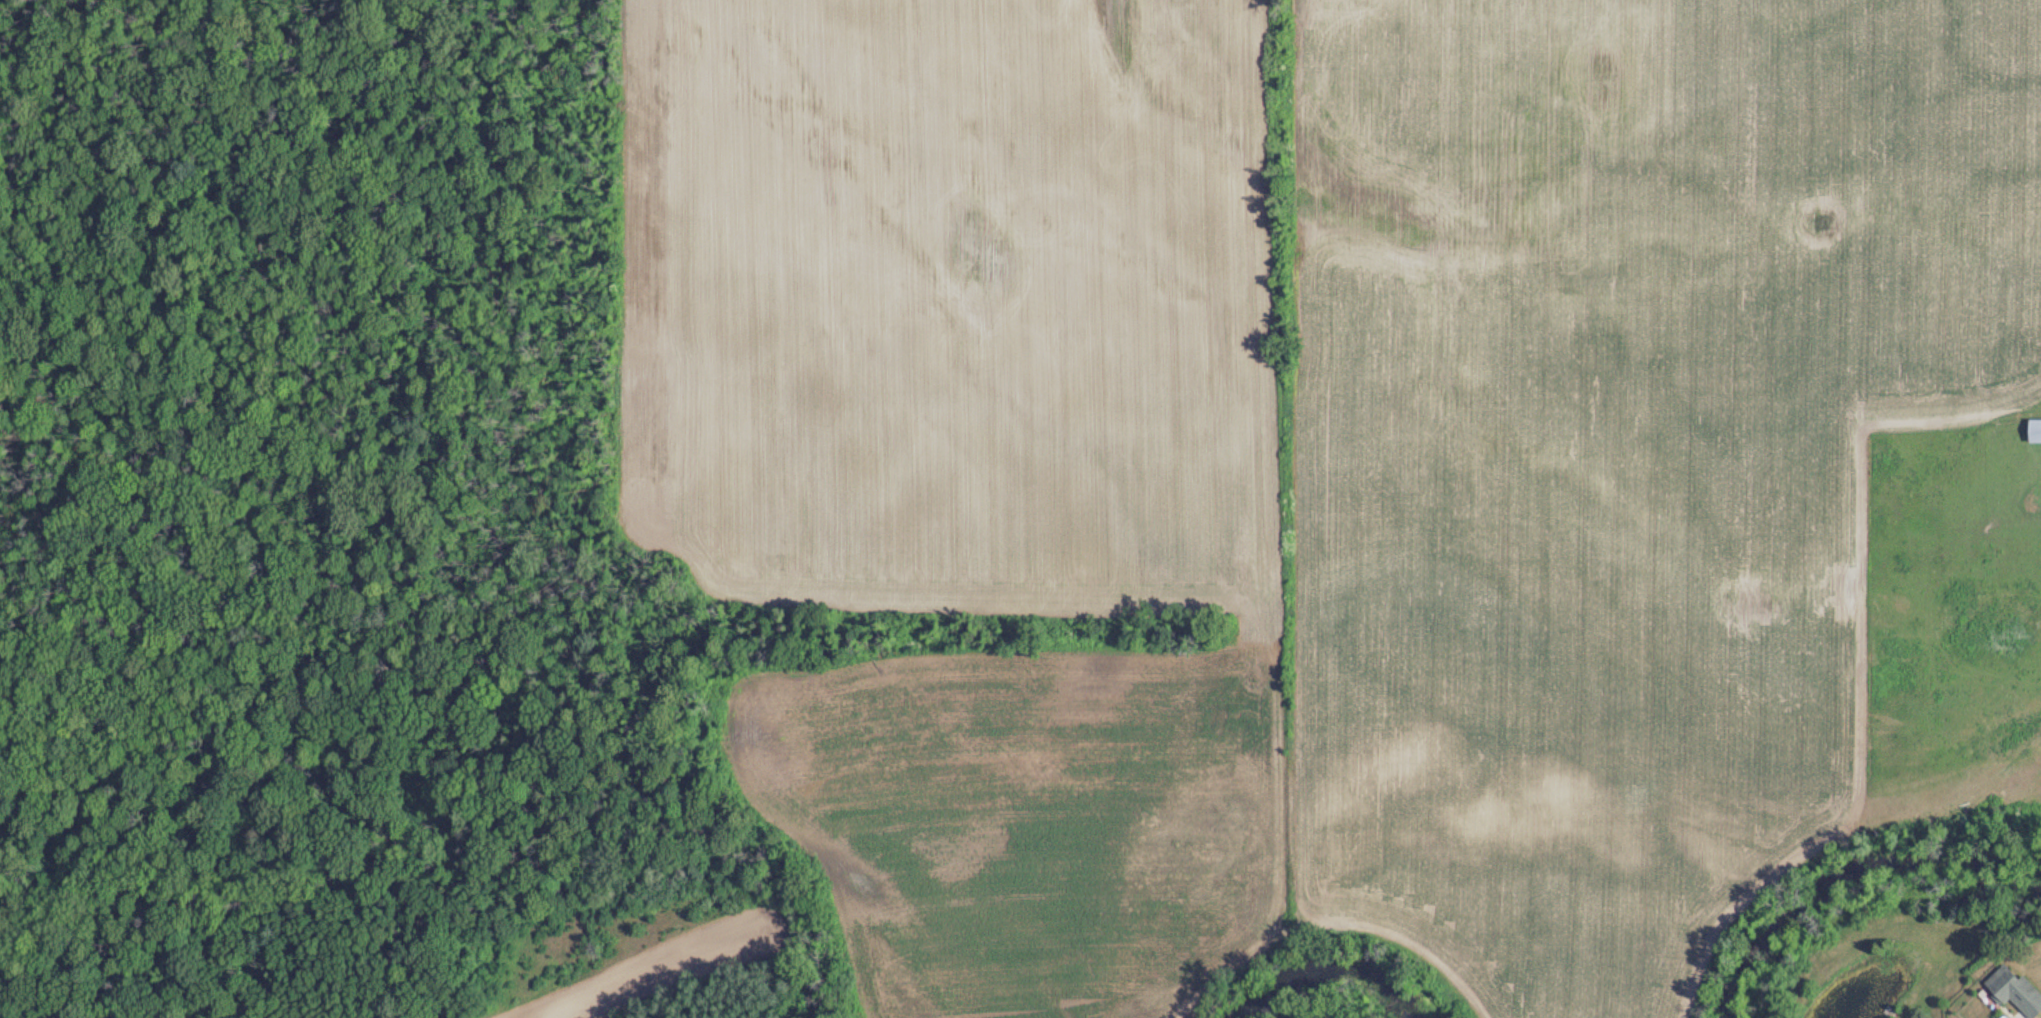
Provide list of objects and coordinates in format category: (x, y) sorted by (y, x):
building: (2037, 431)
building: (2017, 989)

